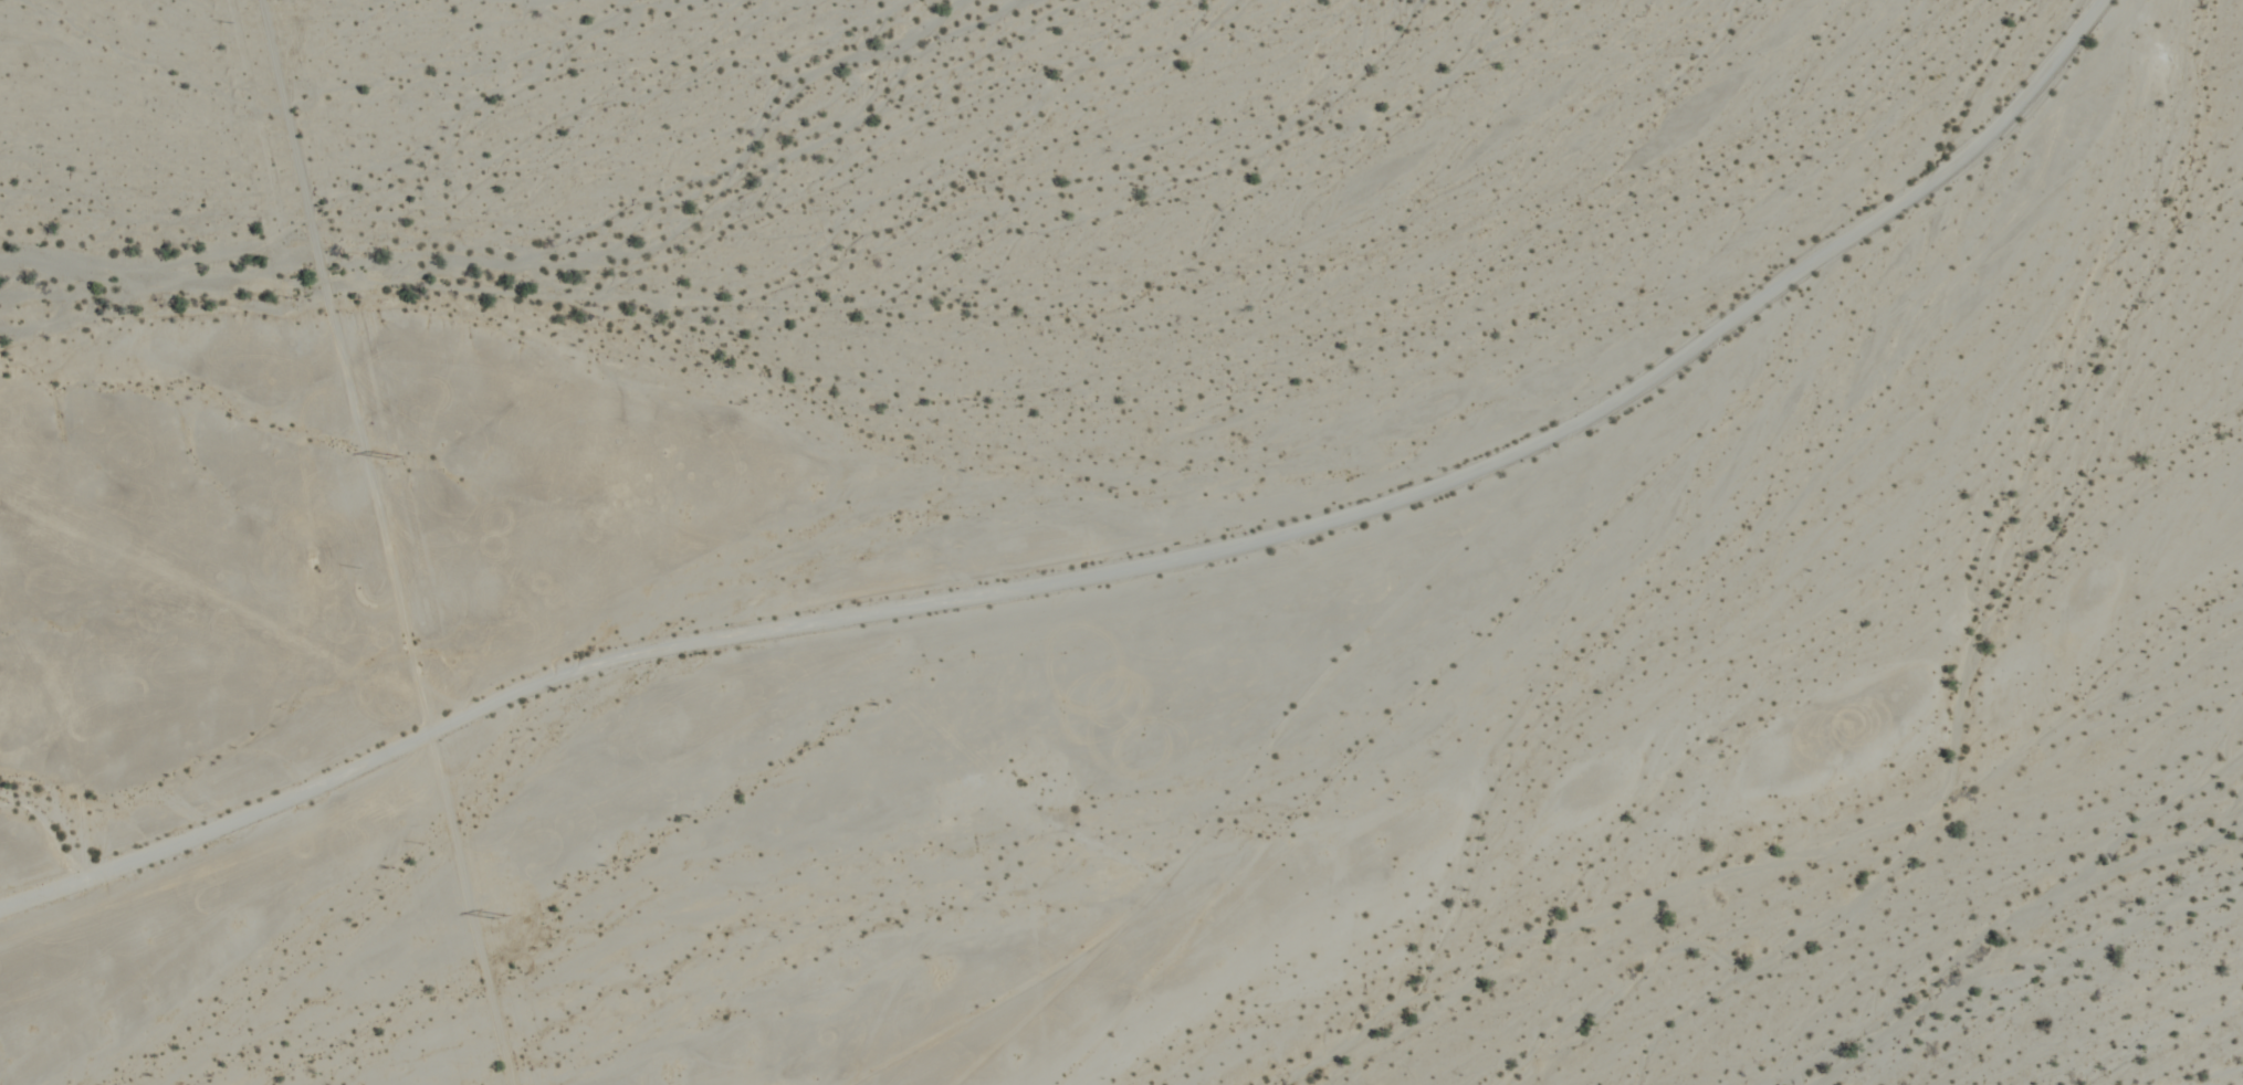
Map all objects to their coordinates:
power tower: (394, 460)
road: (1090, 536)
power tower: (507, 920)

